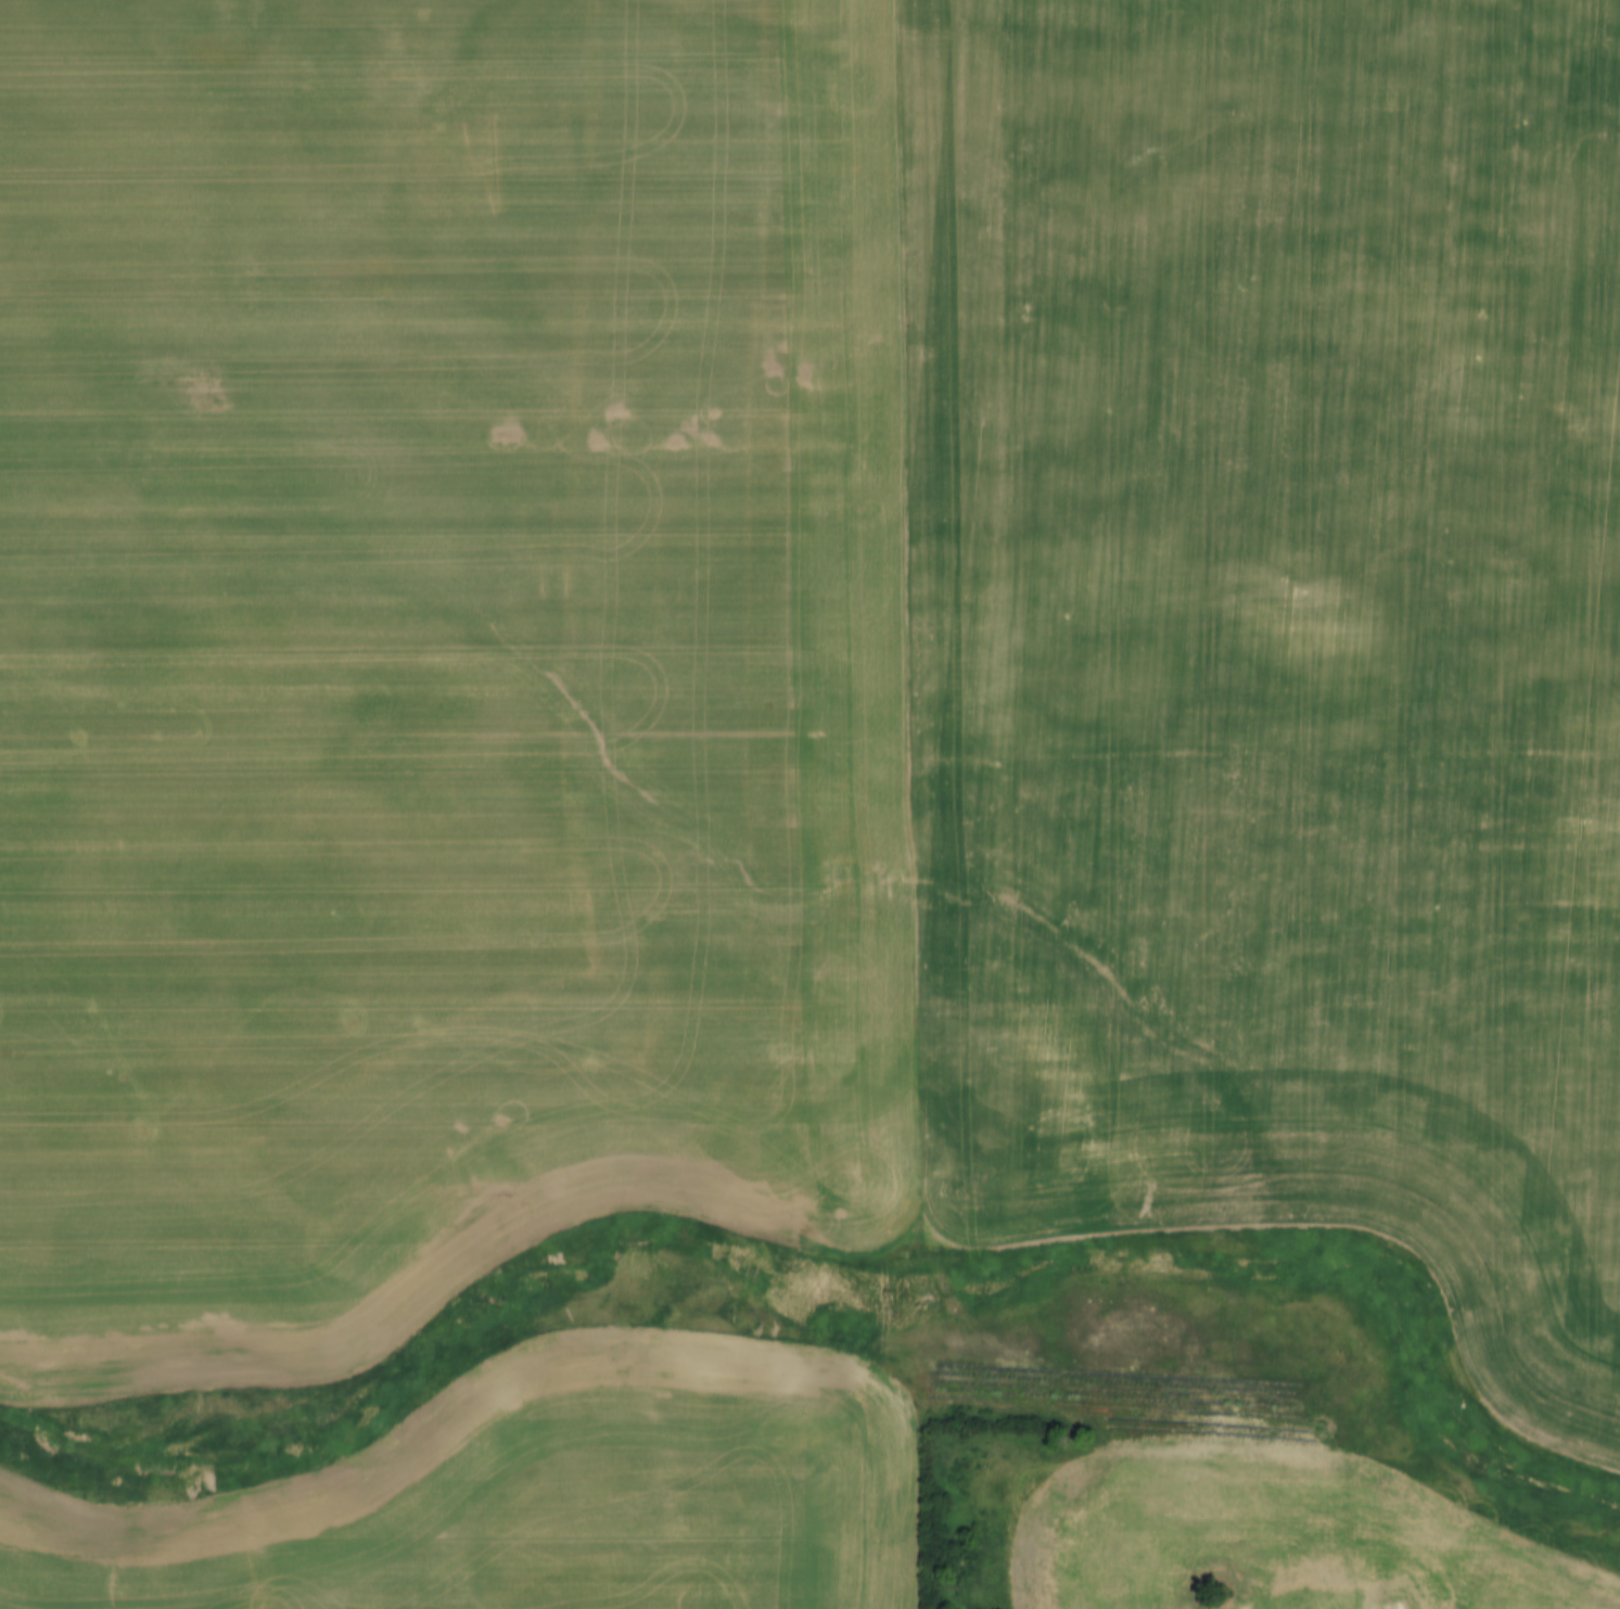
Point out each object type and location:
building: (1327, 1608)

